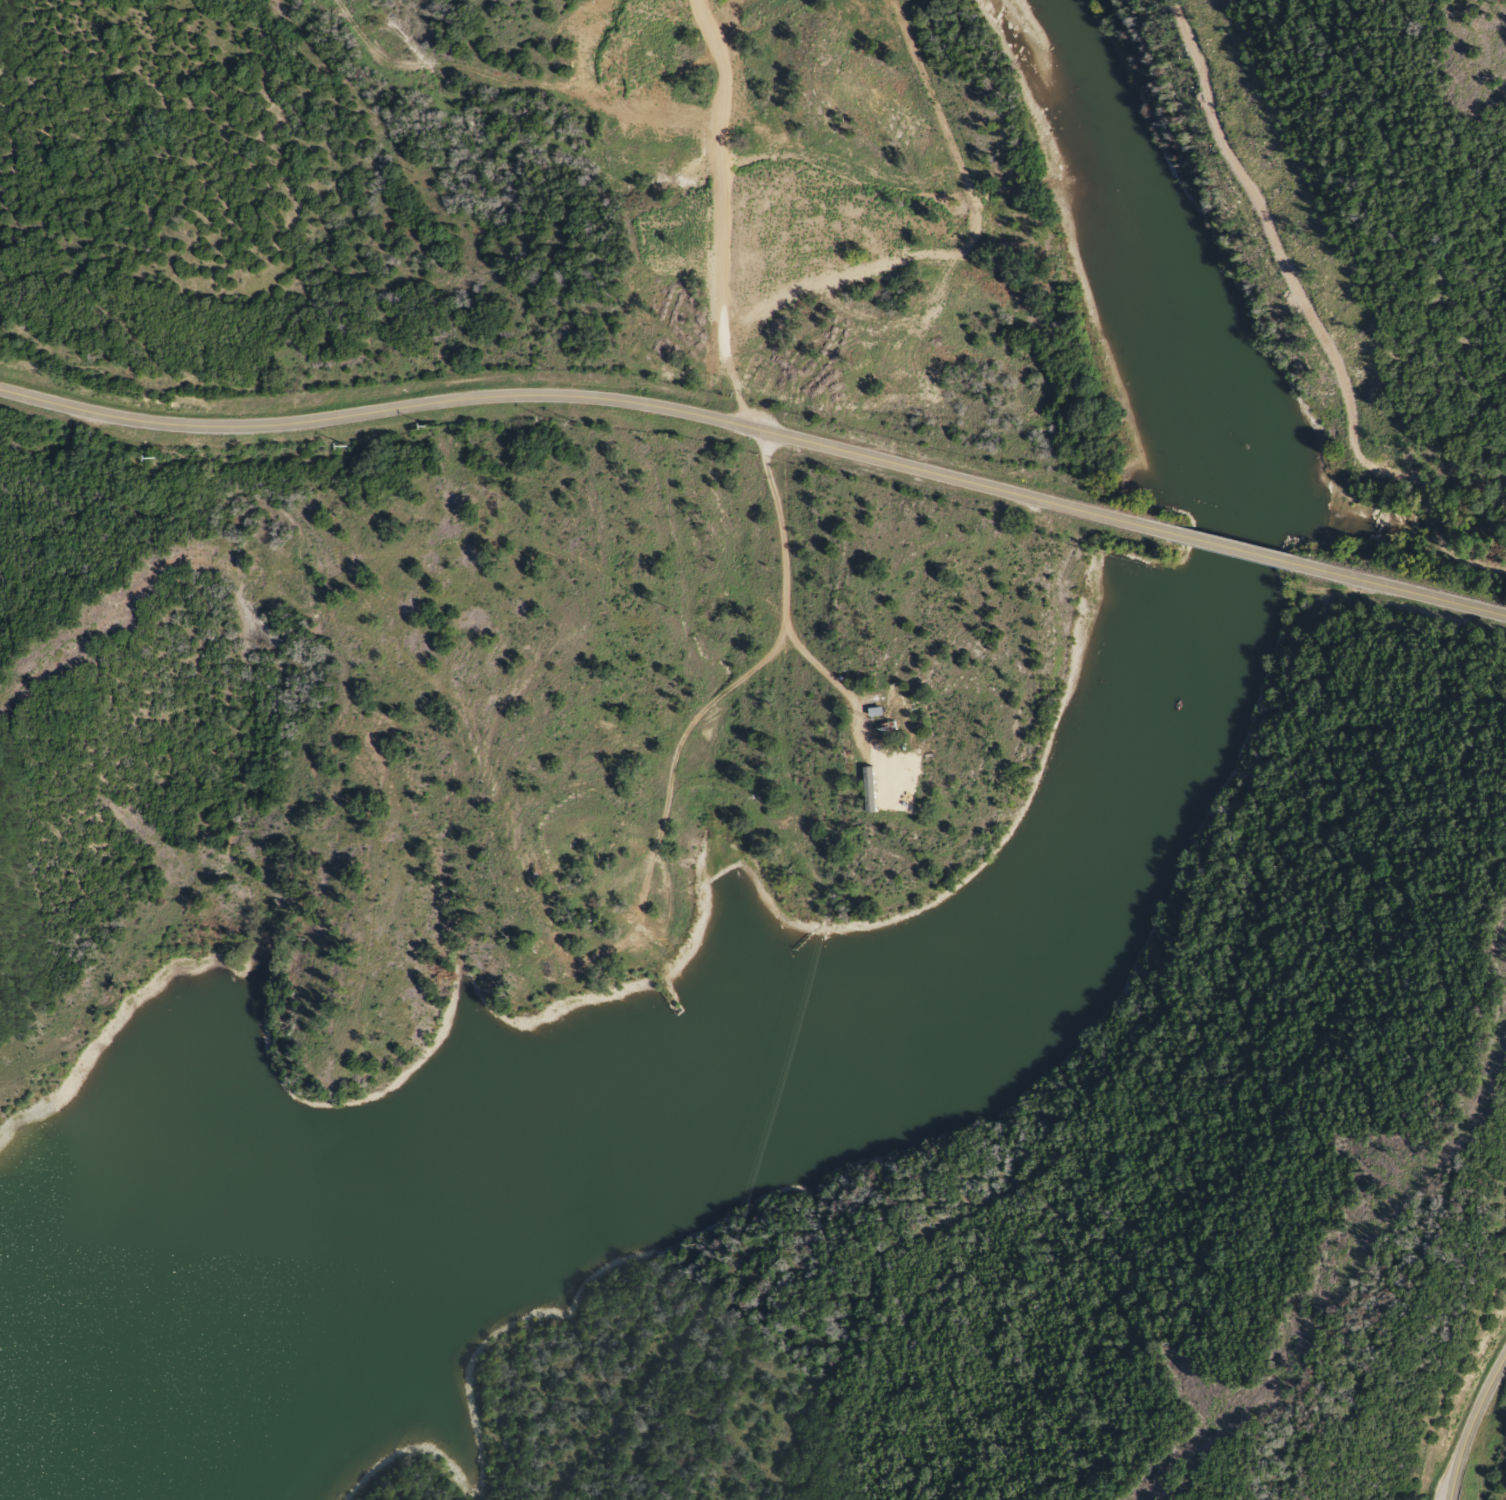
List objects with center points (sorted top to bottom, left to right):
road: (521, 393)
road: (779, 519)
road: (1198, 537)
road: (1433, 597)
building: (873, 708)
road: (853, 740)
building: (889, 774)
road: (661, 826)
building: (646, 916)
building: (549, 941)
building: (615, 948)
road: (1469, 1422)

